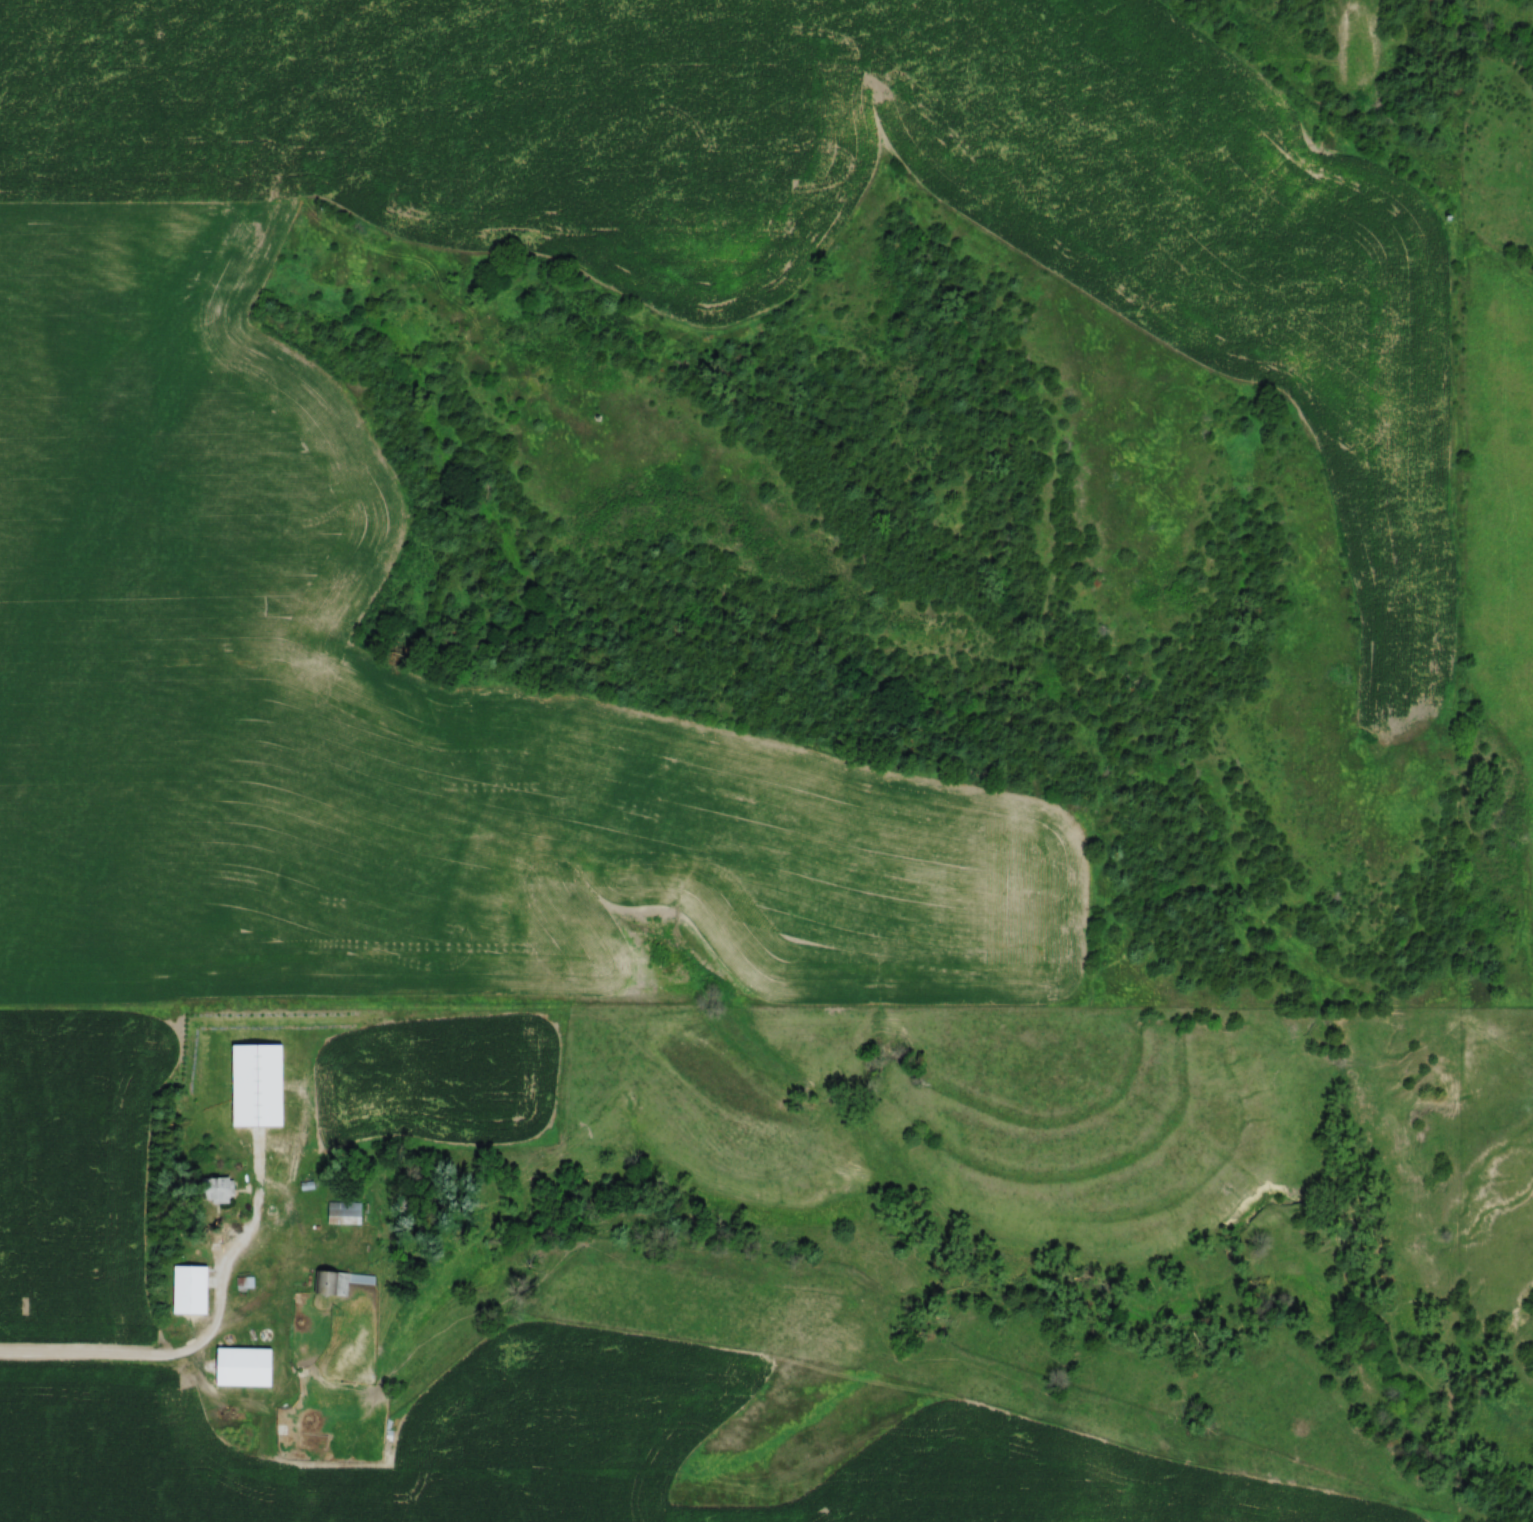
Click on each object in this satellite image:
building: (259, 1085)
building: (214, 1188)
building: (341, 1212)
building: (338, 1281)
building: (189, 1288)
road: (106, 1357)
building: (241, 1366)

